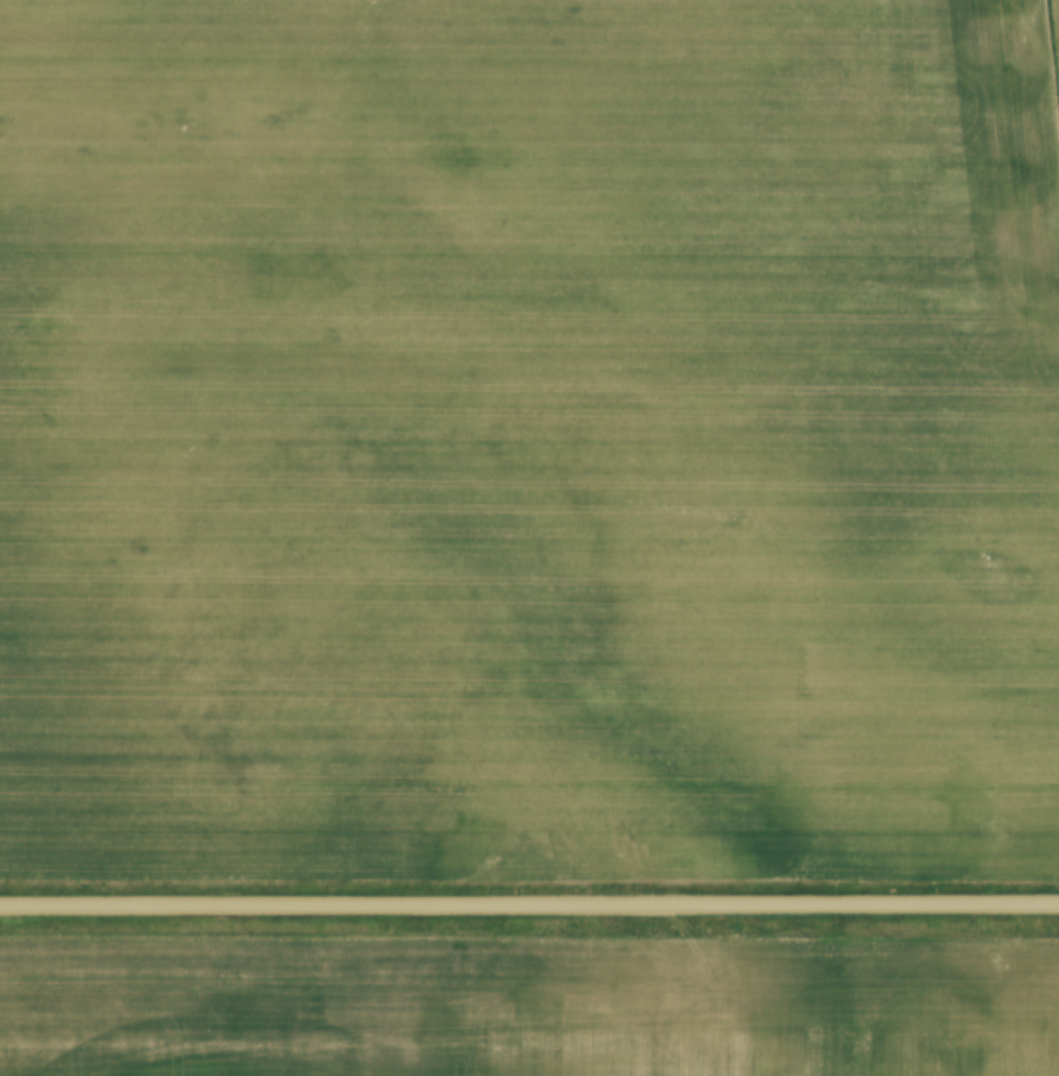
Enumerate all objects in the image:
road: (528, 908)

